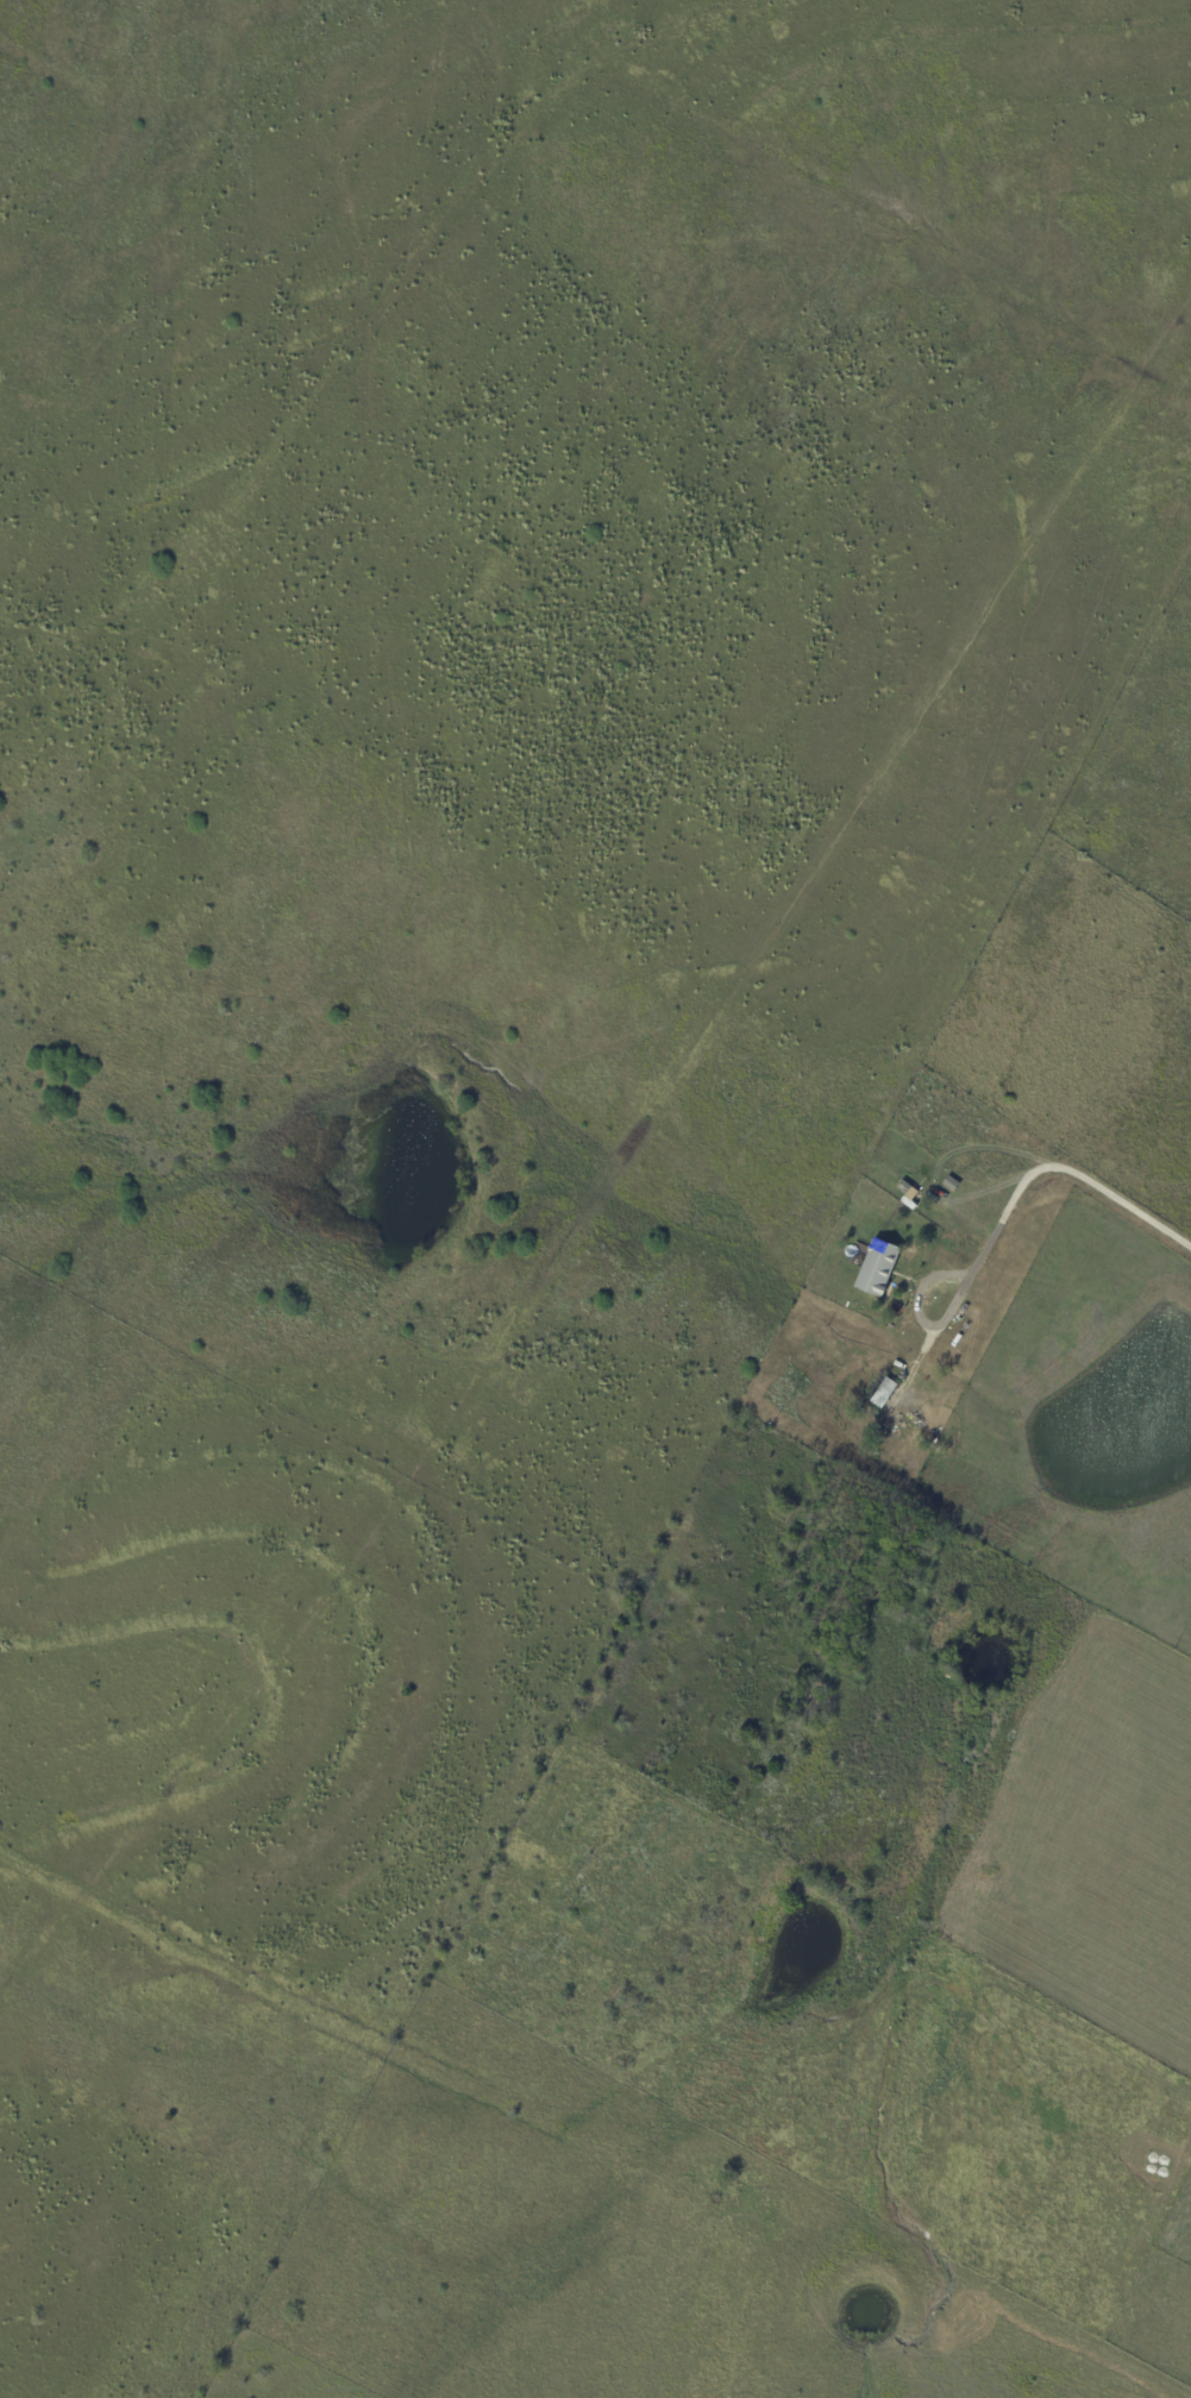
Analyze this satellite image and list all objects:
road: (1064, 1167)
building: (878, 1267)
road: (923, 1316)
building: (882, 1392)
building: (1032, 2387)

